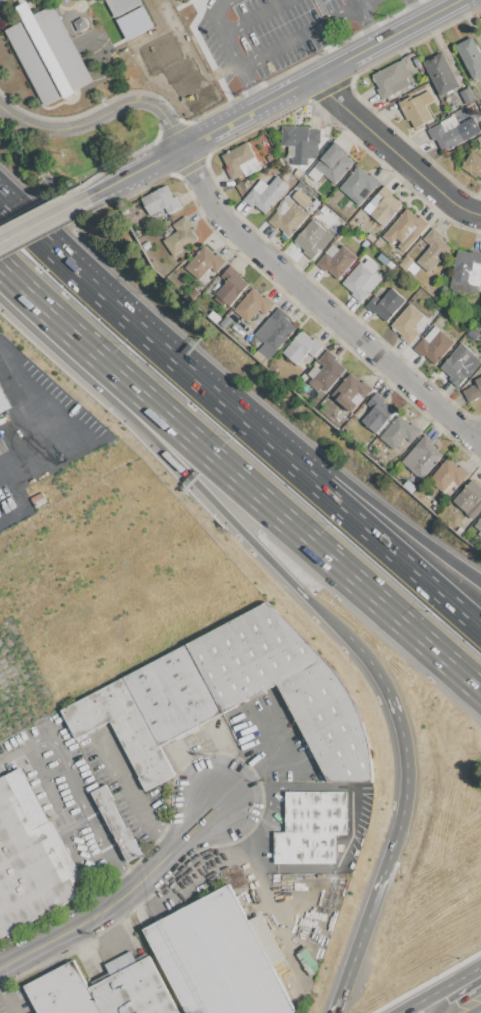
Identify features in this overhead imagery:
road: (355, 3)
road: (362, 3)
building: (122, 5)
road: (414, 11)
road: (253, 17)
building: (133, 22)
road: (366, 26)
road: (218, 29)
road: (297, 36)
building: (47, 53)
building: (470, 56)
building: (415, 59)
building: (441, 73)
building: (392, 78)
road: (248, 88)
building: (467, 96)
building: (427, 97)
road: (277, 99)
building: (415, 110)
road: (100, 113)
building: (448, 133)
building: (479, 139)
building: (301, 142)
road: (389, 143)
building: (237, 159)
building: (473, 164)
building: (331, 165)
building: (298, 172)
building: (286, 176)
building: (358, 185)
building: (266, 194)
building: (301, 198)
building: (160, 201)
building: (383, 206)
road: (471, 211)
building: (288, 217)
road: (43, 219)
building: (405, 229)
building: (179, 236)
building: (370, 237)
building: (313, 238)
building: (378, 242)
building: (433, 249)
building: (336, 260)
building: (203, 263)
road: (0, 268)
building: (413, 268)
building: (467, 268)
building: (361, 281)
building: (230, 286)
building: (385, 304)
building: (252, 305)
road: (320, 306)
road: (131, 320)
building: (226, 322)
building: (407, 323)
building: (272, 334)
building: (431, 334)
building: (473, 334)
building: (251, 338)
building: (434, 347)
building: (300, 348)
building: (460, 365)
building: (313, 371)
building: (327, 372)
building: (349, 391)
building: (473, 391)
building: (3, 402)
building: (376, 413)
building: (399, 432)
road: (149, 433)
road: (476, 435)
road: (23, 440)
building: (421, 457)
building: (447, 475)
road: (240, 481)
road: (308, 483)
building: (468, 497)
road: (375, 506)
building: (478, 525)
road: (417, 578)
road: (326, 615)
building: (251, 656)
building: (173, 695)
building: (329, 723)
building: (122, 728)
road: (404, 748)
road: (258, 764)
road: (196, 773)
road: (77, 794)
road: (130, 794)
building: (116, 824)
road: (194, 824)
building: (310, 827)
building: (30, 858)
road: (93, 917)
road: (357, 942)
building: (217, 960)
road: (448, 982)
traffic signals: (441, 987)
building: (132, 988)
building: (61, 991)
road: (7, 999)
road: (407, 1007)
road: (420, 1007)
road: (480, 1012)

